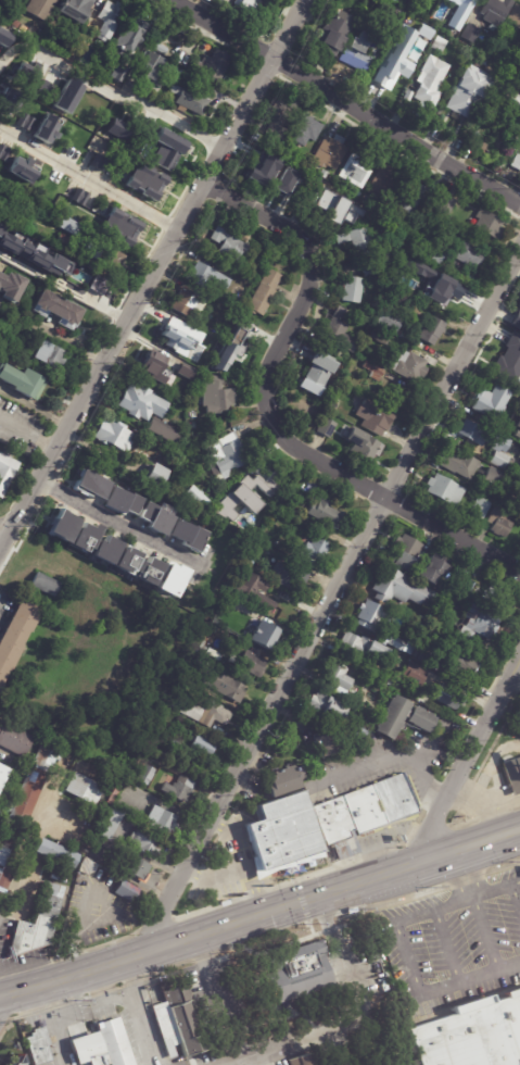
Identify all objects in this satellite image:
building: (207, 1)
building: (397, 1)
building: (467, 2)
building: (246, 5)
building: (9, 7)
building: (498, 7)
building: (38, 8)
building: (76, 9)
building: (394, 14)
building: (515, 16)
building: (492, 18)
building: (106, 20)
building: (131, 29)
building: (30, 30)
building: (180, 30)
building: (455, 33)
building: (331, 35)
building: (471, 35)
building: (3, 37)
building: (81, 42)
building: (422, 42)
building: (156, 47)
building: (356, 53)
building: (458, 58)
building: (211, 65)
building: (149, 71)
building: (391, 71)
building: (117, 73)
building: (365, 80)
building: (67, 96)
road: (112, 96)
building: (426, 97)
building: (10, 100)
building: (188, 100)
building: (504, 100)
road: (344, 101)
building: (460, 108)
building: (280, 112)
building: (27, 123)
building: (519, 124)
building: (102, 127)
building: (519, 127)
building: (46, 128)
building: (118, 128)
building: (304, 129)
building: (254, 137)
building: (163, 142)
building: (277, 142)
building: (497, 147)
building: (275, 149)
building: (329, 152)
building: (100, 162)
building: (516, 162)
building: (21, 170)
building: (275, 170)
building: (354, 171)
building: (324, 174)
road: (89, 178)
building: (141, 185)
building: (382, 186)
building: (354, 192)
building: (79, 197)
building: (410, 197)
building: (321, 204)
building: (443, 205)
building: (342, 211)
building: (487, 224)
building: (68, 226)
building: (119, 226)
building: (356, 240)
building: (61, 242)
building: (227, 246)
building: (31, 251)
building: (87, 251)
building: (456, 254)
building: (110, 258)
building: (378, 271)
building: (426, 271)
road: (152, 276)
building: (206, 278)
building: (11, 287)
building: (102, 287)
road: (63, 289)
building: (352, 289)
building: (263, 292)
building: (407, 297)
building: (448, 297)
building: (187, 301)
building: (56, 310)
building: (341, 315)
building: (386, 321)
building: (518, 324)
building: (431, 329)
road: (54, 333)
building: (338, 335)
building: (379, 337)
building: (169, 338)
building: (233, 338)
building: (210, 340)
building: (187, 346)
building: (50, 352)
building: (518, 362)
building: (151, 363)
building: (408, 365)
building: (373, 371)
building: (316, 372)
building: (164, 375)
building: (183, 376)
building: (24, 379)
building: (216, 397)
building: (399, 400)
building: (334, 402)
building: (490, 402)
building: (139, 403)
road: (271, 416)
building: (373, 417)
building: (193, 425)
building: (518, 426)
building: (325, 428)
building: (163, 431)
road: (28, 435)
building: (112, 435)
building: (486, 441)
building: (363, 446)
building: (172, 453)
building: (226, 454)
building: (169, 461)
building: (457, 464)
building: (519, 465)
building: (5, 471)
building: (155, 474)
building: (518, 474)
building: (491, 480)
building: (91, 485)
building: (516, 486)
building: (252, 487)
building: (443, 491)
building: (519, 494)
building: (195, 499)
building: (122, 501)
building: (281, 505)
building: (480, 509)
building: (216, 512)
building: (291, 512)
building: (327, 513)
building: (154, 517)
building: (499, 523)
road: (118, 524)
road: (3, 537)
building: (81, 537)
building: (188, 537)
building: (312, 551)
building: (404, 552)
building: (115, 555)
building: (249, 563)
building: (466, 568)
building: (431, 569)
building: (148, 571)
building: (291, 578)
building: (170, 580)
building: (43, 585)
building: (468, 588)
building: (399, 589)
building: (254, 592)
road: (332, 593)
building: (499, 598)
building: (288, 599)
building: (238, 607)
building: (369, 616)
building: (479, 624)
building: (442, 630)
building: (264, 635)
building: (15, 636)
building: (396, 643)
building: (204, 648)
building: (363, 649)
building: (406, 651)
building: (427, 660)
building: (252, 665)
building: (458, 665)
building: (377, 674)
building: (338, 676)
building: (415, 676)
building: (371, 681)
building: (228, 688)
building: (446, 697)
building: (326, 709)
building: (199, 711)
building: (390, 718)
building: (419, 719)
building: (355, 735)
building: (13, 740)
building: (174, 744)
building: (201, 747)
building: (329, 747)
road: (390, 755)
building: (60, 757)
road: (468, 763)
building: (2, 774)
building: (513, 775)
building: (144, 776)
building: (287, 778)
building: (29, 789)
building: (180, 789)
building: (83, 790)
building: (286, 790)
building: (114, 793)
building: (365, 810)
building: (0, 820)
building: (161, 820)
building: (109, 824)
road: (225, 828)
building: (288, 829)
building: (145, 842)
building: (55, 855)
road: (26, 857)
building: (7, 861)
building: (136, 869)
building: (85, 870)
road: (237, 872)
road: (462, 874)
road: (515, 882)
road: (490, 890)
building: (125, 892)
road: (515, 899)
road: (452, 902)
road: (259, 913)
building: (36, 925)
road: (482, 932)
road: (399, 938)
road: (445, 945)
parking lot: (454, 948)
building: (313, 965)
road: (352, 978)
road: (469, 978)
road: (3, 1001)
road: (216, 1004)
road: (134, 1012)
building: (178, 1020)
road: (51, 1025)
building: (471, 1036)
building: (39, 1045)
building: (103, 1045)
road: (266, 1049)
building: (176, 1055)
building: (14, 1061)
building: (301, 1061)

